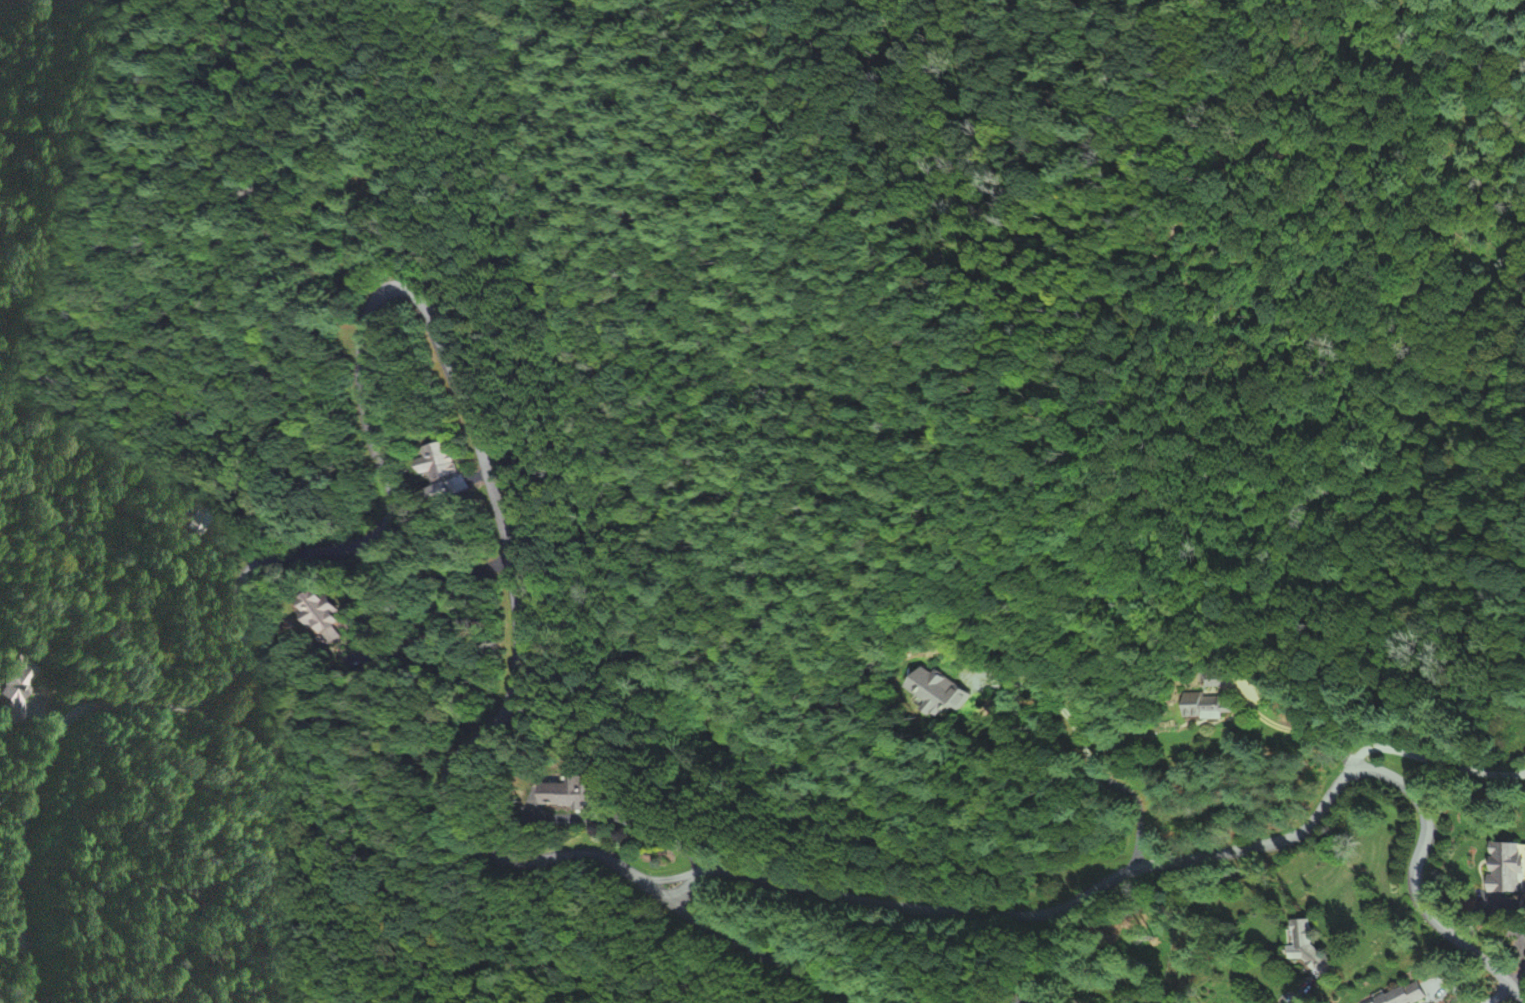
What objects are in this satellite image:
building: (454, 460)
building: (200, 522)
road: (505, 536)
building: (330, 615)
building: (18, 683)
building: (935, 689)
road: (218, 691)
road: (1041, 693)
building: (1210, 706)
road: (232, 708)
road: (1288, 727)
road: (1432, 760)
building: (591, 794)
road: (1138, 801)
road: (29, 804)
road: (1198, 856)
building: (1510, 866)
road: (671, 877)
road: (686, 887)
building: (1307, 943)
building: (1409, 993)
road: (1498, 995)
road: (1046, 998)

